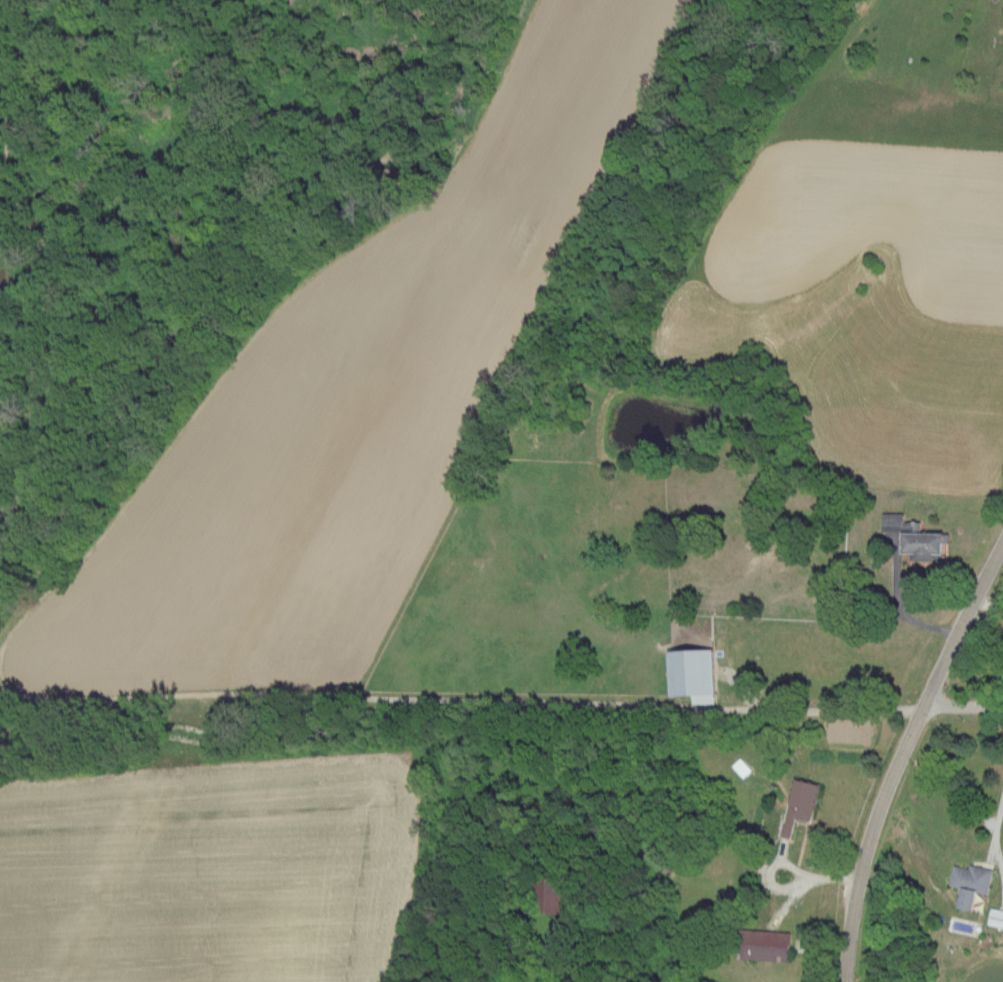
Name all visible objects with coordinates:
road: (908, 615)
building: (695, 672)
road: (962, 705)
road: (821, 708)
road: (900, 752)
building: (801, 802)
road: (994, 831)
building: (971, 881)
building: (552, 895)
building: (996, 916)
building: (768, 944)

